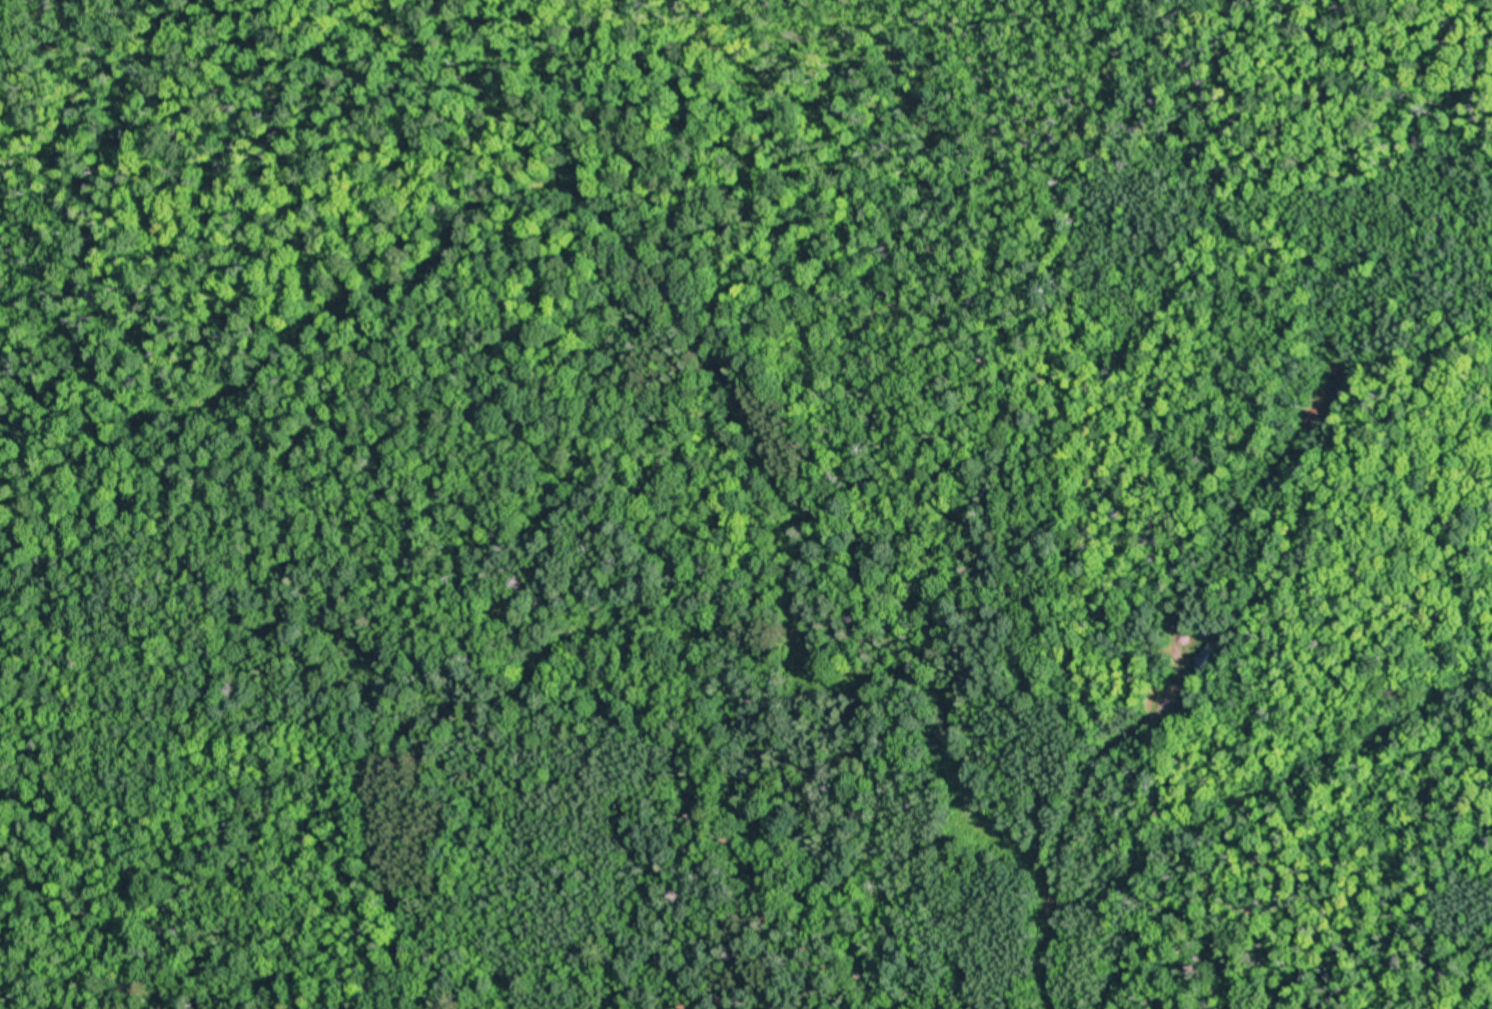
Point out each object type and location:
building: (1212, 655)

